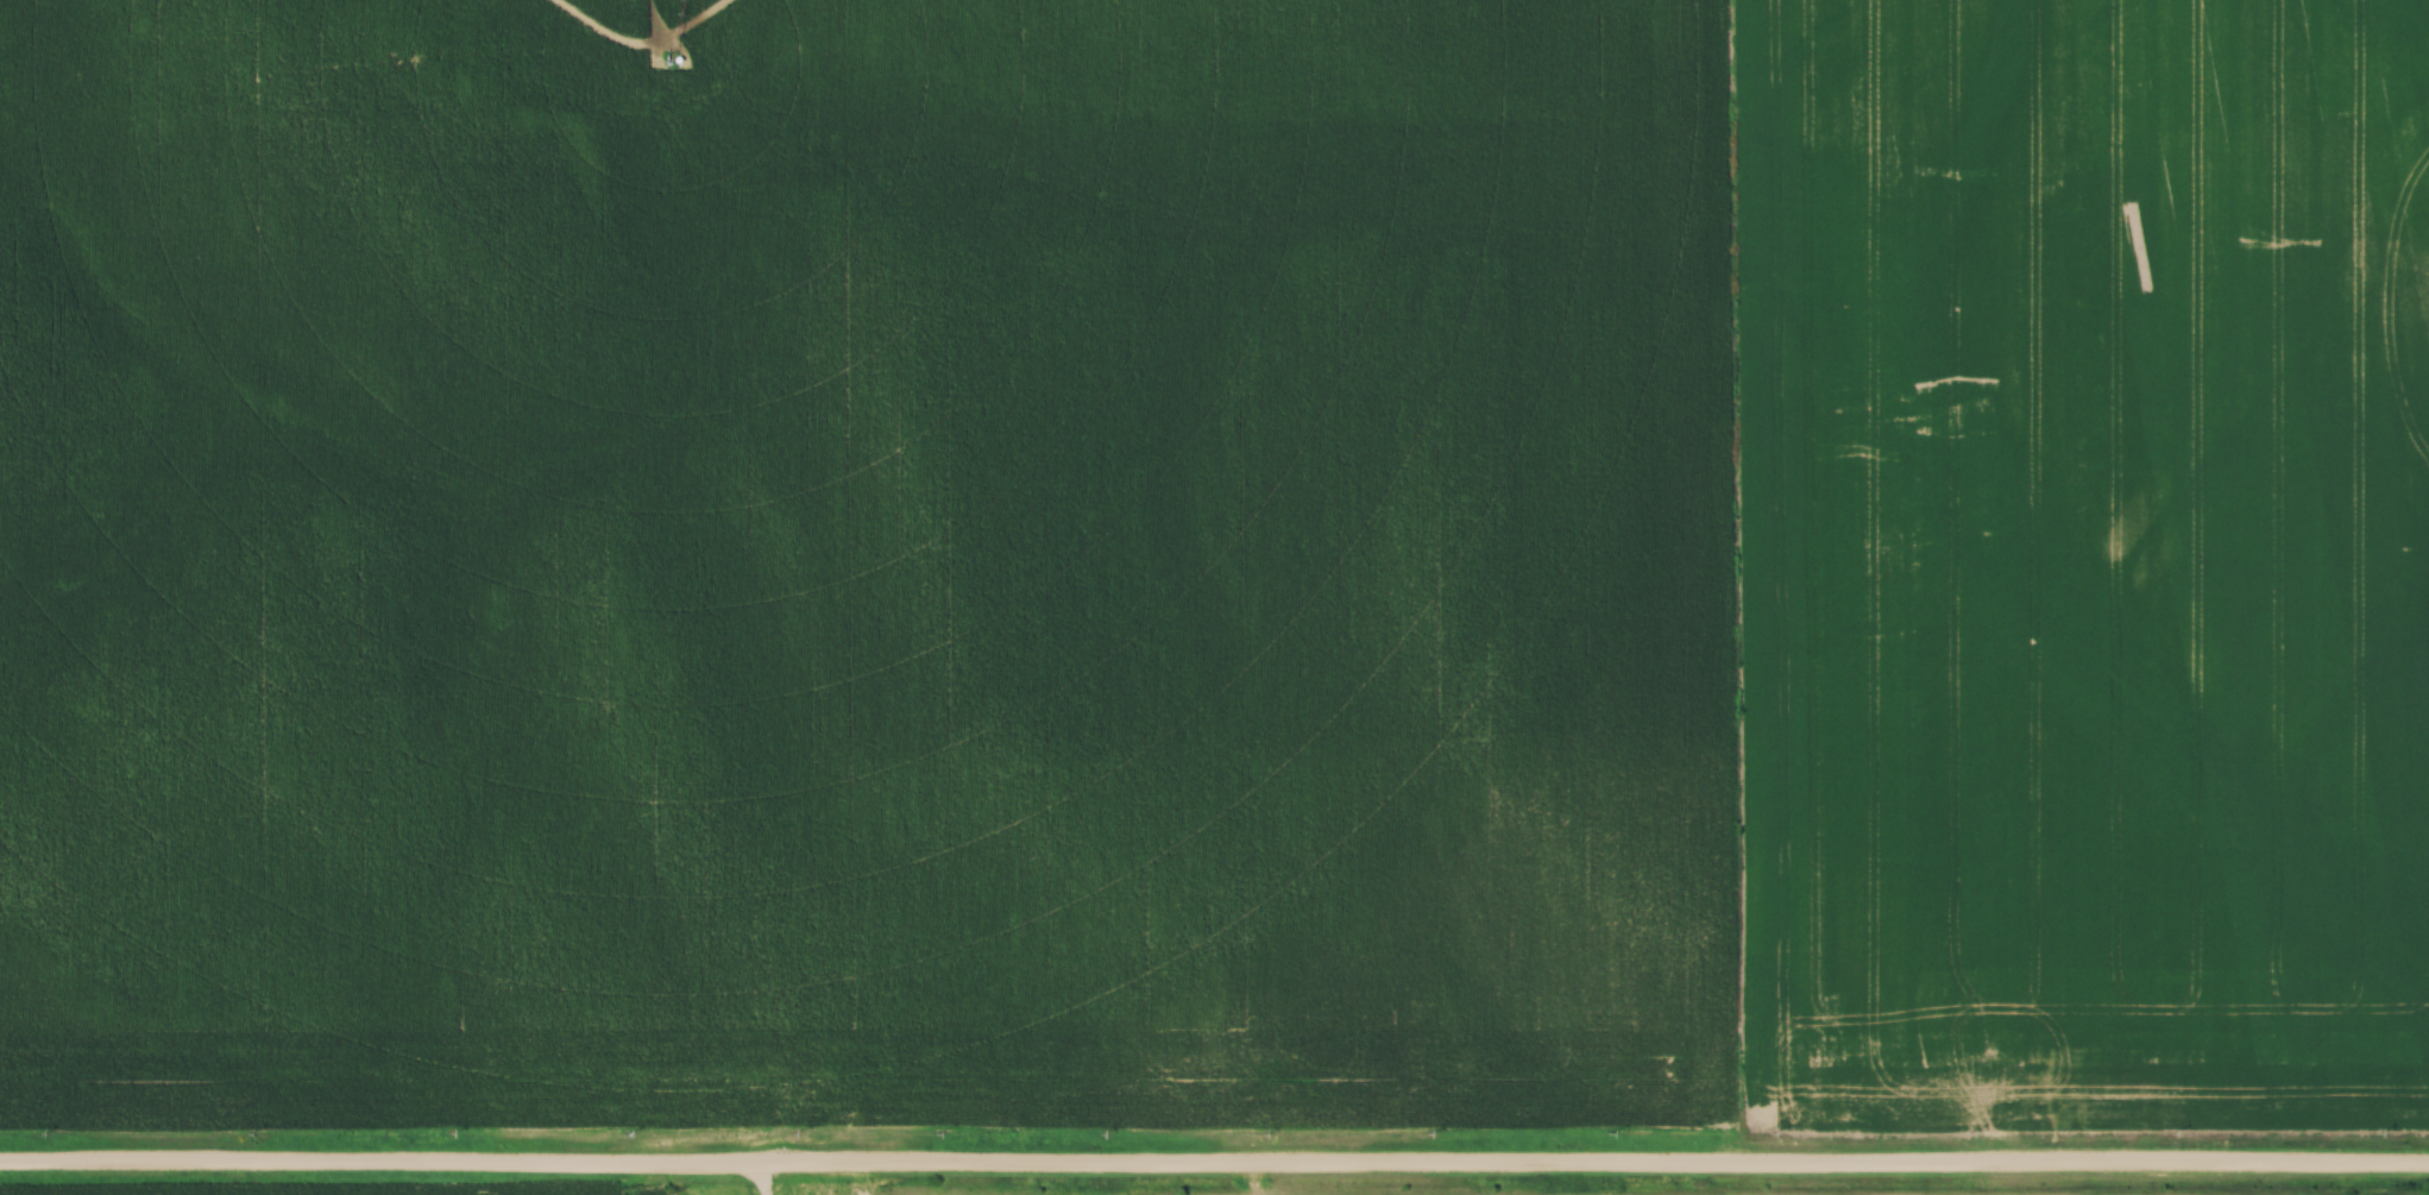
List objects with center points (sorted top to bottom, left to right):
road: (1214, 1166)

